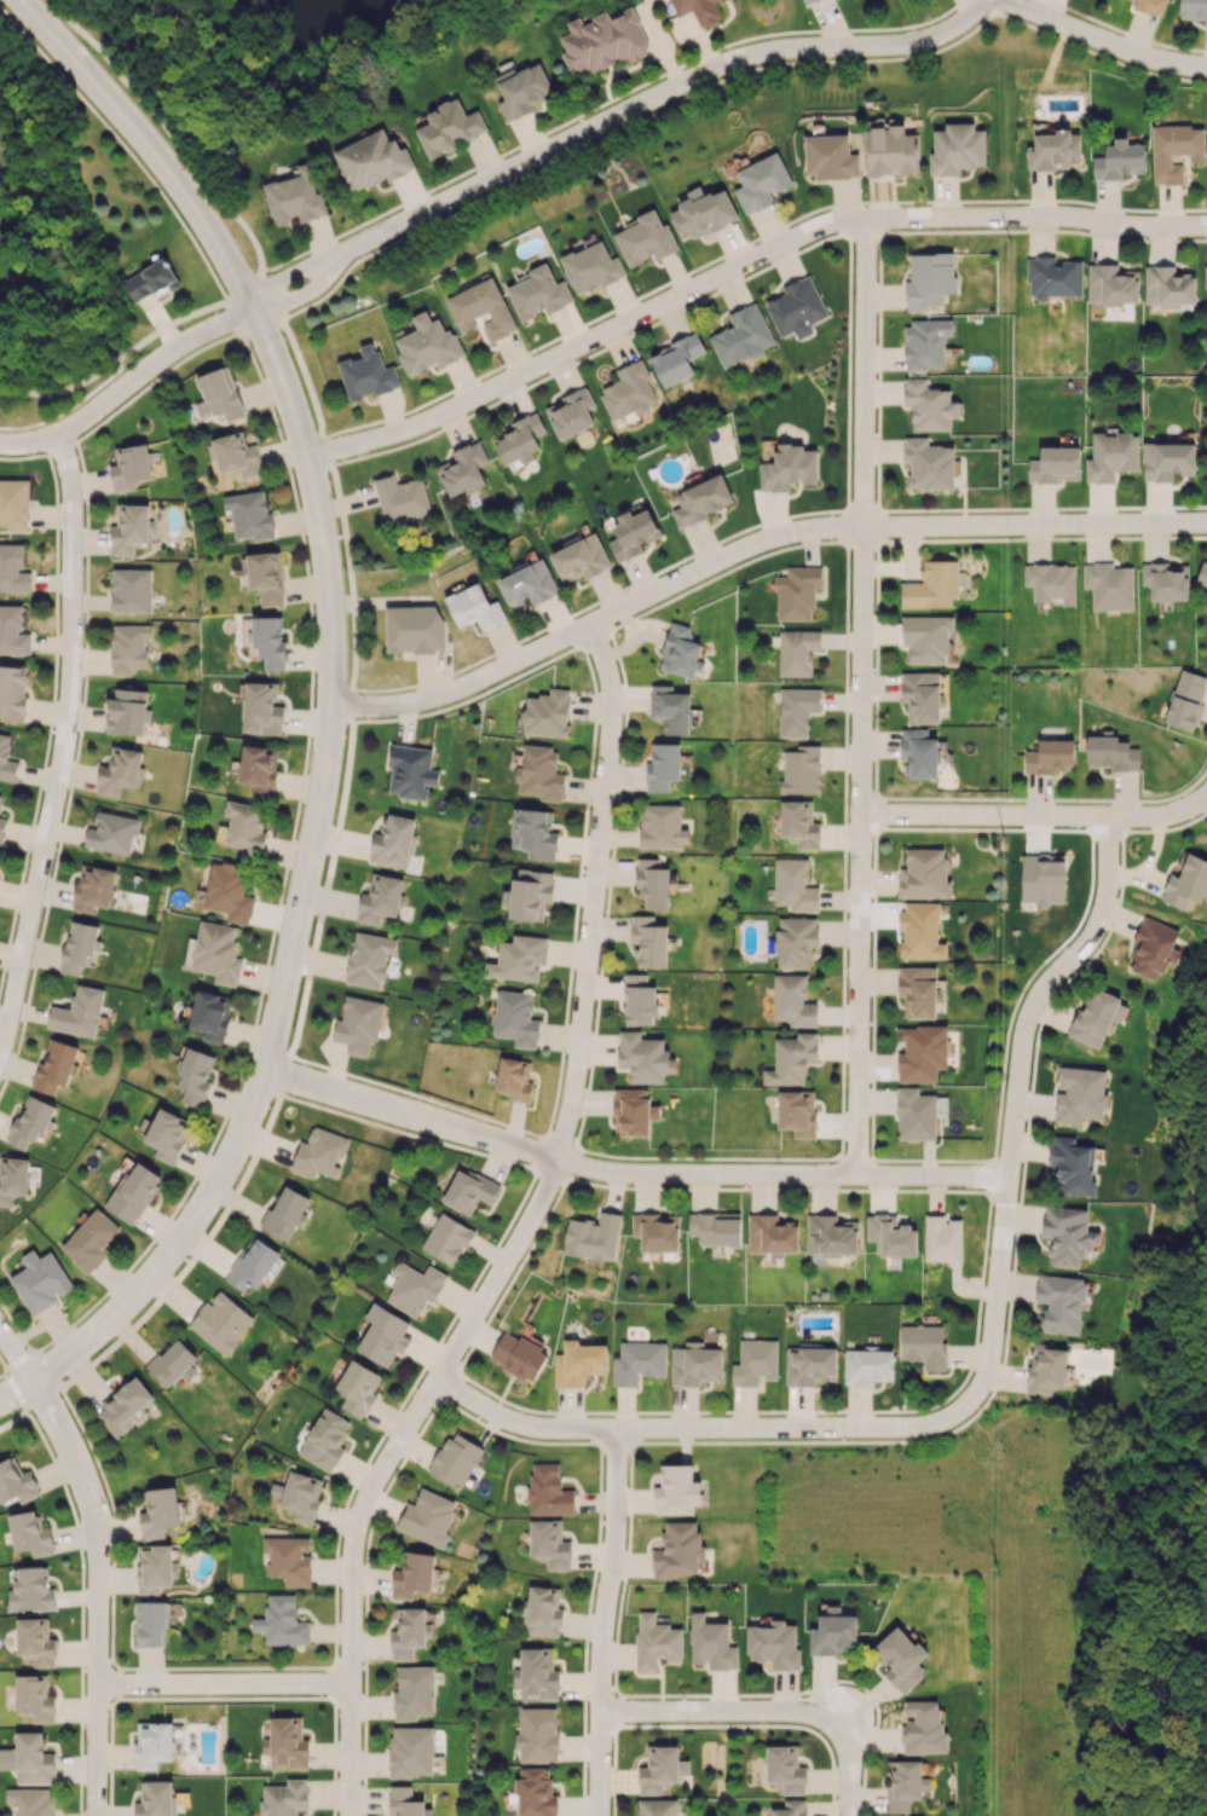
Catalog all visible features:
building: (805, 0)
road: (1009, 1)
building: (1149, 6)
building: (698, 10)
building: (1192, 10)
road: (1101, 40)
building: (602, 41)
building: (522, 91)
road: (603, 104)
road: (616, 121)
building: (449, 127)
road: (166, 133)
building: (957, 149)
building: (891, 150)
building: (1053, 150)
building: (1174, 151)
building: (830, 157)
building: (371, 160)
building: (1119, 160)
building: (761, 183)
building: (293, 197)
building: (701, 212)
building: (645, 238)
building: (590, 267)
road: (746, 268)
building: (1053, 277)
building: (1206, 277)
building: (929, 279)
building: (151, 281)
building: (1111, 284)
building: (1168, 287)
building: (538, 293)
building: (481, 308)
building: (796, 308)
building: (741, 336)
building: (426, 343)
building: (925, 343)
road: (133, 346)
building: (676, 359)
building: (366, 372)
road: (128, 391)
building: (628, 391)
building: (218, 395)
building: (929, 405)
road: (71, 409)
building: (571, 413)
building: (518, 439)
building: (236, 456)
building: (1111, 456)
building: (1167, 461)
building: (928, 464)
building: (1055, 464)
building: (129, 468)
building: (463, 468)
building: (787, 468)
building: (400, 499)
building: (700, 501)
building: (13, 503)
building: (249, 515)
building: (129, 527)
building: (633, 534)
road: (757, 548)
building: (579, 559)
building: (13, 568)
building: (1202, 574)
building: (266, 577)
building: (1166, 580)
building: (1051, 582)
building: (527, 584)
building: (931, 585)
building: (1108, 585)
building: (131, 590)
building: (797, 592)
building: (473, 607)
building: (414, 629)
building: (12, 631)
building: (926, 638)
building: (266, 642)
building: (128, 647)
building: (680, 652)
building: (796, 652)
building: (12, 692)
building: (920, 696)
road: (868, 700)
building: (1186, 700)
road: (336, 706)
building: (261, 709)
building: (670, 709)
building: (796, 710)
building: (127, 711)
building: (545, 713)
road: (62, 744)
building: (919, 752)
building: (1110, 753)
building: (1050, 756)
building: (6, 759)
building: (663, 767)
building: (259, 769)
building: (801, 770)
building: (119, 771)
building: (410, 771)
building: (539, 773)
building: (0, 796)
road: (1206, 796)
road: (1039, 814)
building: (798, 823)
building: (662, 826)
building: (1, 828)
building: (244, 828)
building: (111, 832)
building: (533, 833)
building: (393, 842)
building: (924, 874)
building: (1043, 879)
building: (652, 883)
building: (1186, 883)
building: (793, 885)
building: (93, 887)
building: (227, 892)
building: (530, 893)
building: (380, 897)
road: (323, 901)
building: (920, 931)
building: (649, 941)
building: (796, 941)
building: (79, 945)
building: (1153, 948)
building: (216, 953)
building: (519, 958)
building: (369, 959)
building: (918, 990)
building: (639, 1000)
building: (792, 1001)
building: (79, 1012)
building: (210, 1014)
building: (1097, 1017)
building: (515, 1018)
building: (358, 1024)
building: (922, 1053)
building: (643, 1057)
building: (791, 1059)
building: (56, 1066)
building: (195, 1077)
building: (514, 1078)
road: (1022, 1093)
building: (1079, 1094)
building: (633, 1111)
building: (797, 1112)
building: (916, 1114)
building: (30, 1122)
building: (167, 1134)
building: (319, 1153)
building: (1070, 1167)
road: (631, 1174)
building: (13, 1179)
building: (469, 1190)
building: (133, 1192)
building: (284, 1213)
building: (716, 1228)
building: (657, 1231)
road: (526, 1234)
building: (772, 1234)
building: (831, 1234)
building: (1068, 1234)
building: (890, 1236)
building: (446, 1238)
building: (942, 1238)
building: (89, 1240)
building: (252, 1265)
building: (40, 1280)
building: (414, 1288)
building: (1059, 1303)
building: (220, 1321)
building: (382, 1335)
building: (924, 1344)
building: (518, 1355)
building: (637, 1361)
building: (755, 1361)
building: (173, 1363)
building: (578, 1363)
building: (694, 1364)
building: (809, 1365)
building: (867, 1365)
building: (1045, 1369)
building: (358, 1387)
building: (125, 1407)
road: (711, 1429)
building: (324, 1439)
building: (455, 1459)
building: (16, 1482)
building: (676, 1490)
building: (548, 1491)
building: (296, 1496)
building: (158, 1513)
building: (428, 1517)
building: (30, 1533)
building: (549, 1544)
building: (678, 1550)
building: (288, 1560)
road: (105, 1562)
building: (154, 1567)
building: (412, 1574)
building: (31, 1590)
building: (543, 1612)
building: (281, 1621)
road: (613, 1623)
building: (409, 1632)
building: (832, 1632)
building: (35, 1641)
building: (656, 1641)
building: (710, 1643)
building: (773, 1644)
building: (900, 1659)
building: (536, 1675)
road: (230, 1682)
building: (412, 1693)
building: (34, 1698)
road: (724, 1712)
building: (923, 1728)
building: (536, 1734)
building: (152, 1743)
building: (285, 1743)
building: (410, 1751)
building: (29, 1758)
building: (785, 1769)
road: (854, 1769)
building: (662, 1770)
building: (906, 1783)
building: (535, 1792)
building: (284, 1798)
building: (155, 1799)
building: (30, 1800)
building: (405, 1801)
building: (656, 1806)
building: (790, 1808)

